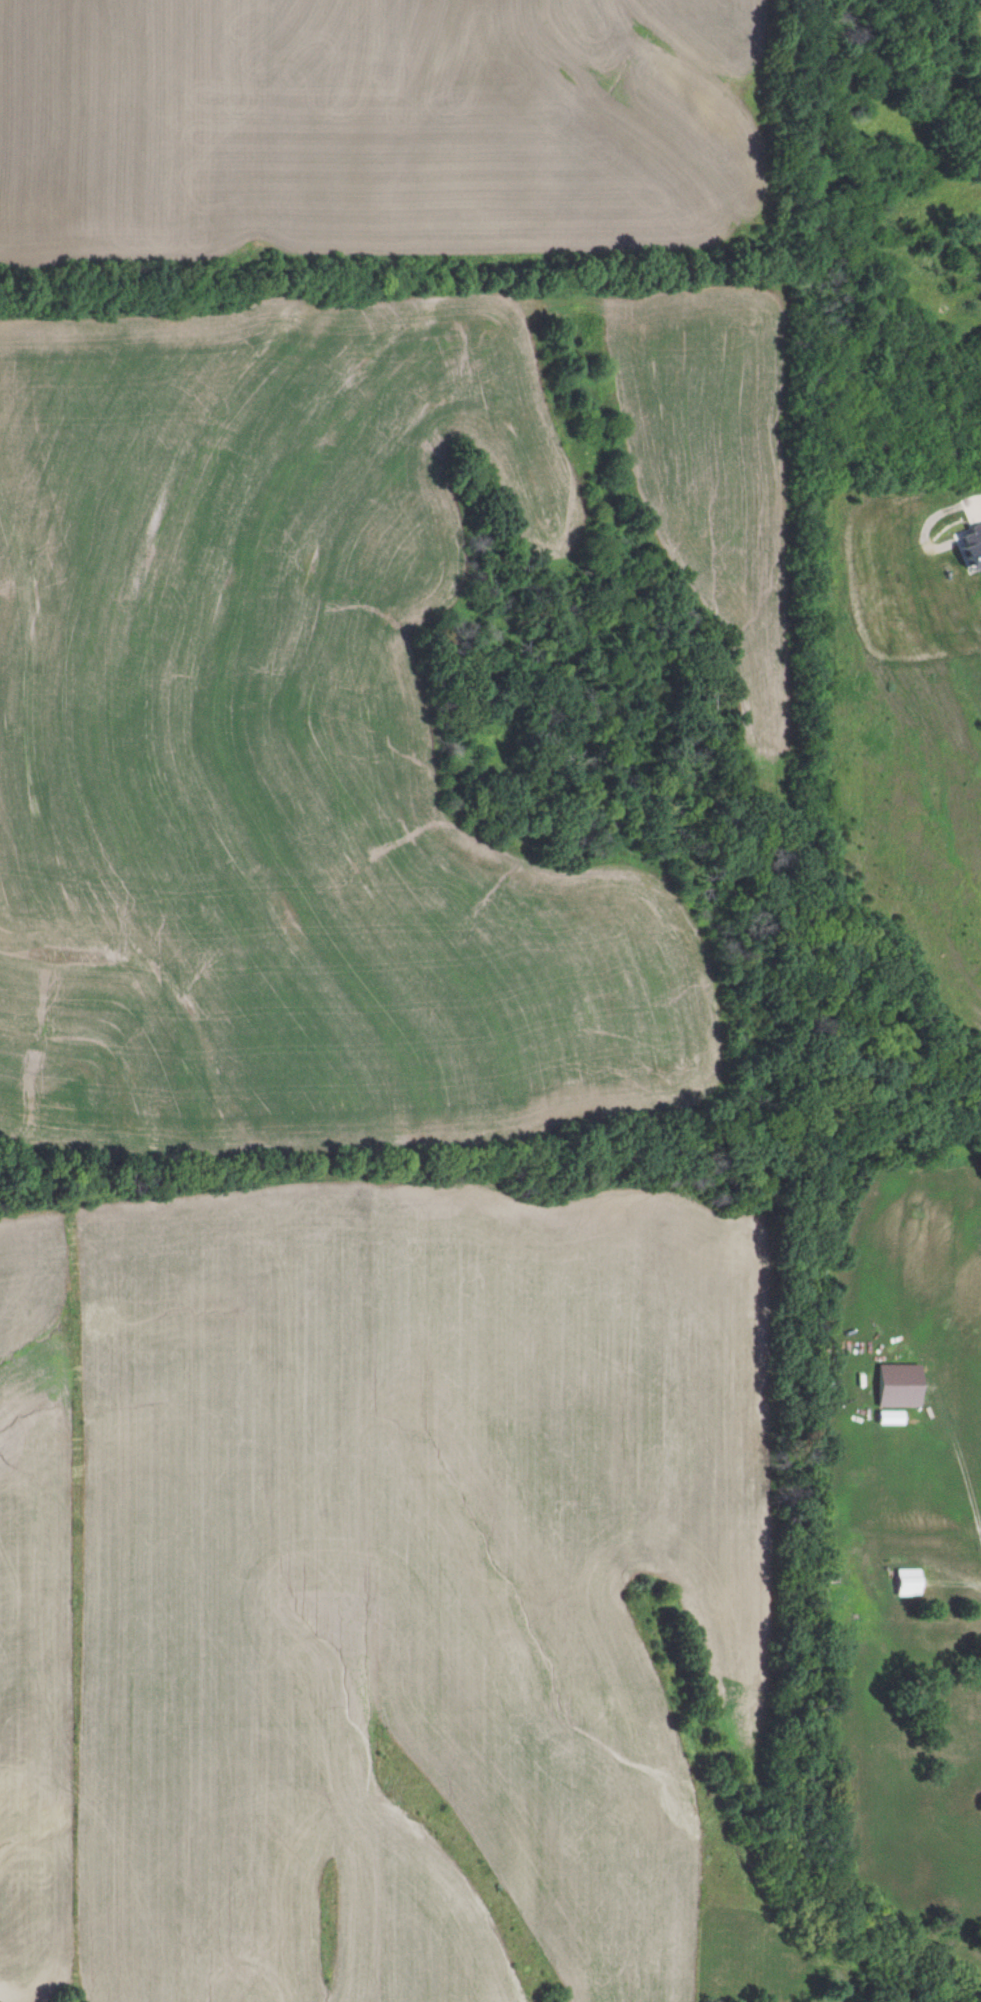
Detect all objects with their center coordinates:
crop: (714, 480)
road: (975, 504)
crop: (293, 755)
crop: (409, 1578)
building: (900, 1583)
crop: (40, 1614)

